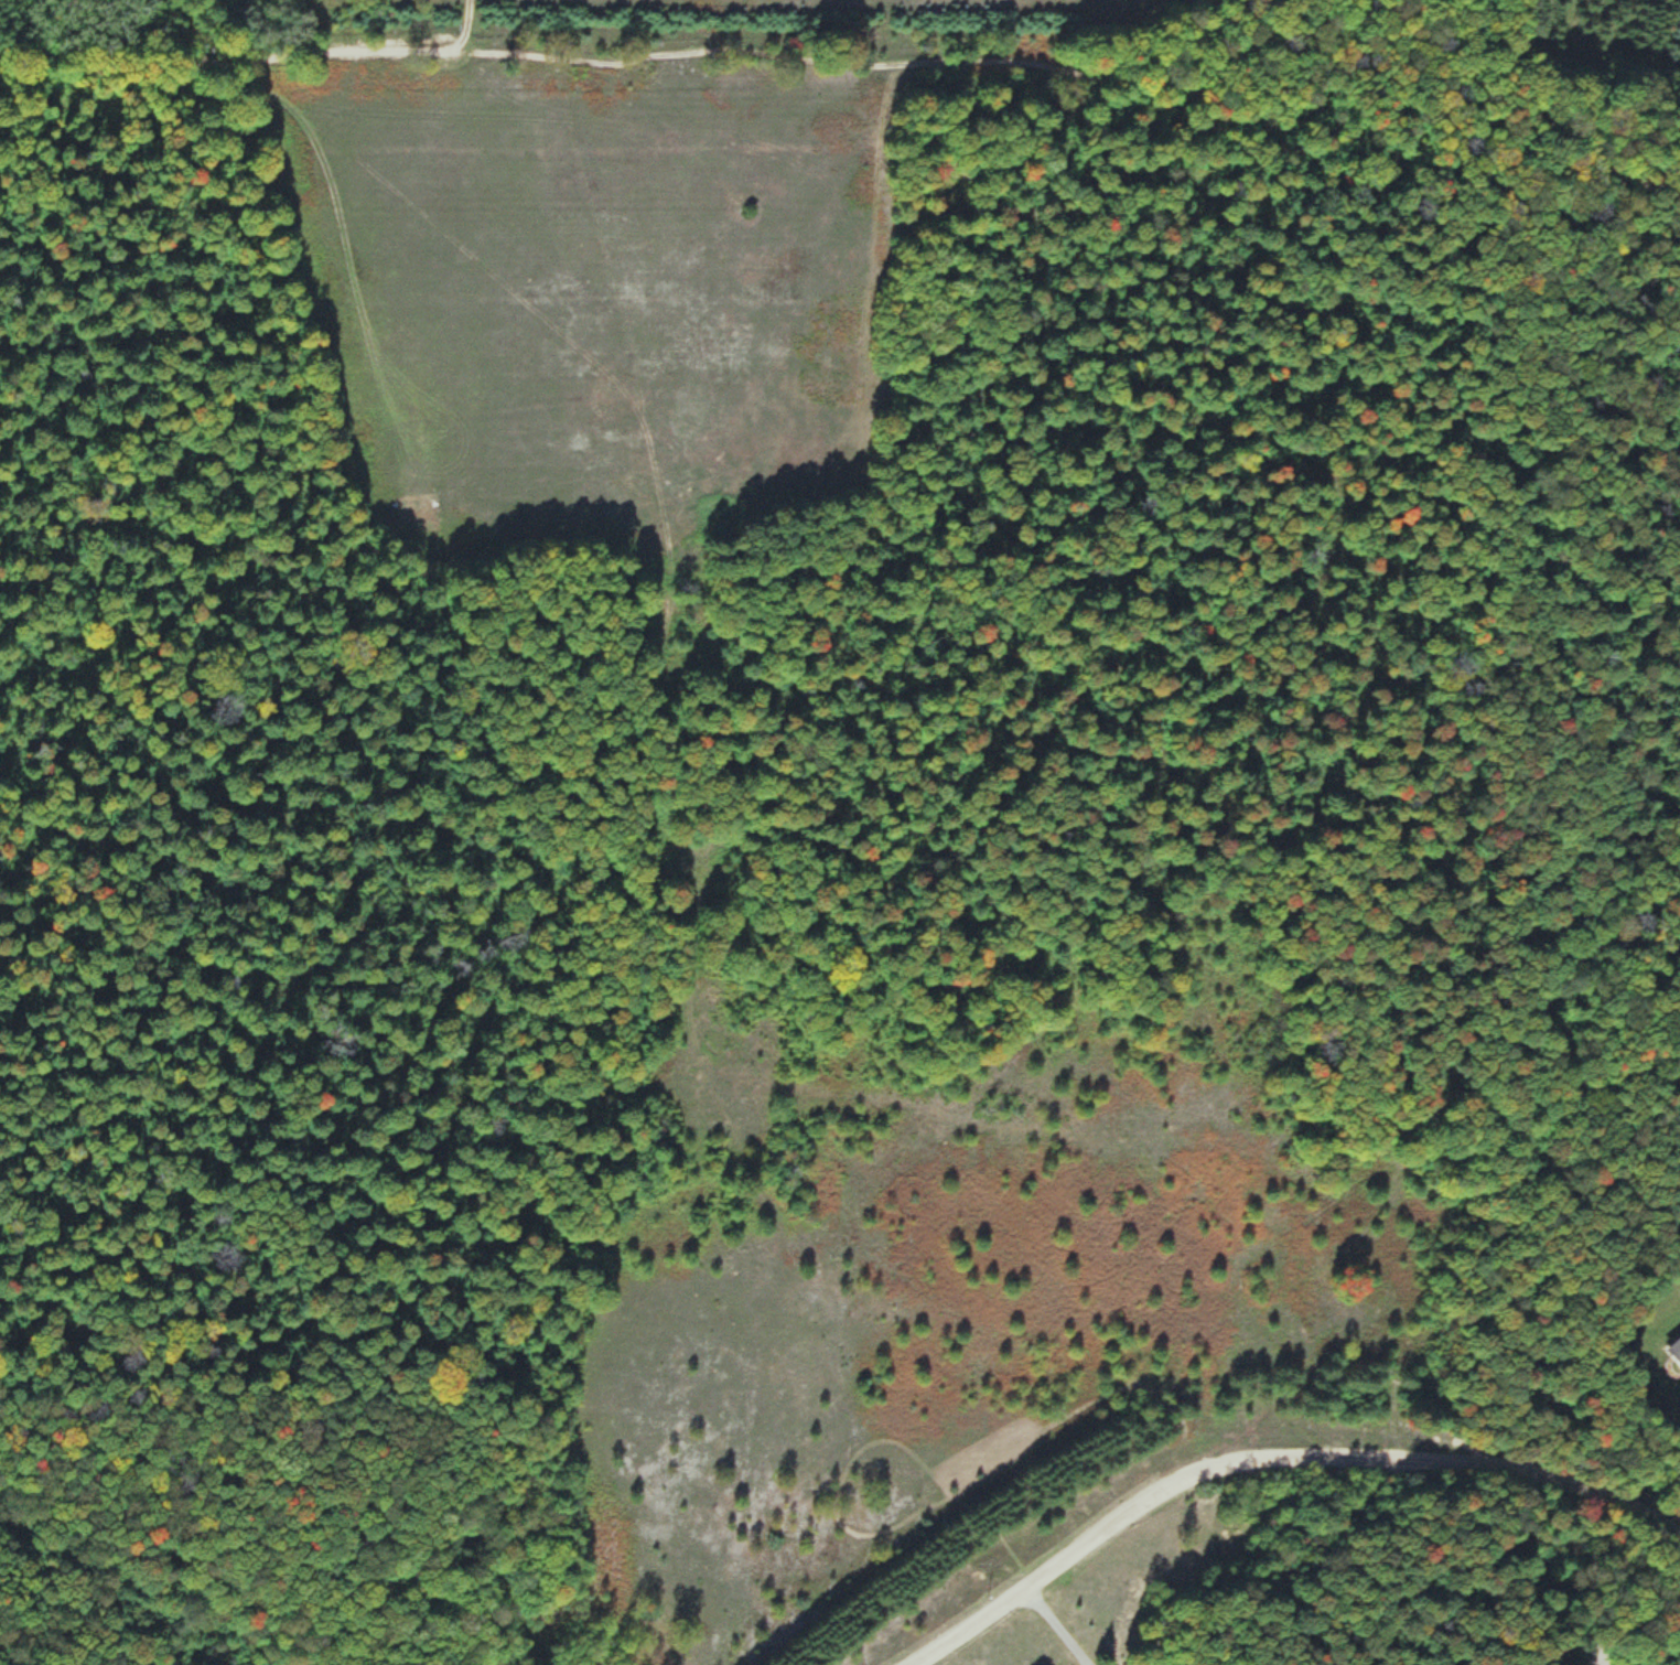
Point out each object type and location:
road: (465, 28)
road: (1516, 28)
road: (757, 52)
road: (1569, 158)
building: (1674, 1350)
road: (1267, 1452)
road: (1677, 1533)
road: (130, 1572)

